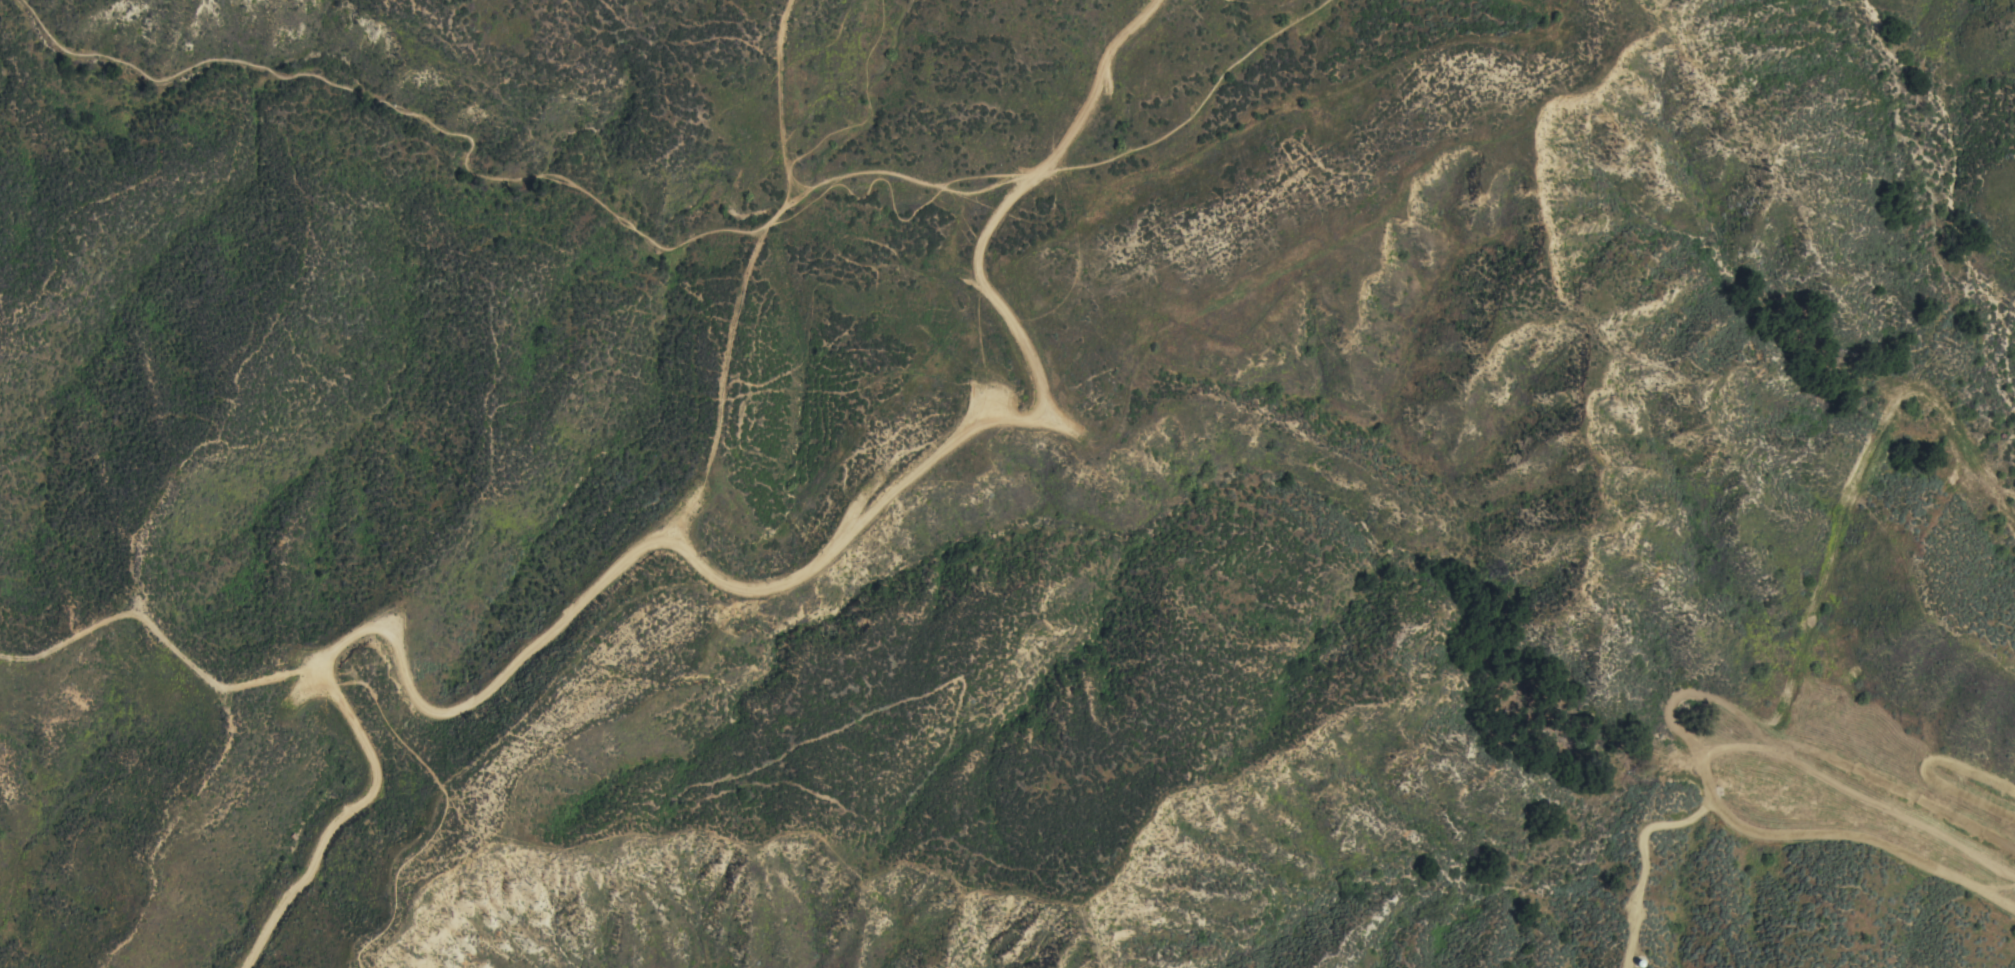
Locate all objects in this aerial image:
road: (781, 98)
road: (869, 107)
road: (404, 114)
road: (1057, 168)
road: (1075, 260)
road: (719, 387)
road: (707, 574)
road: (161, 641)
road: (441, 812)

